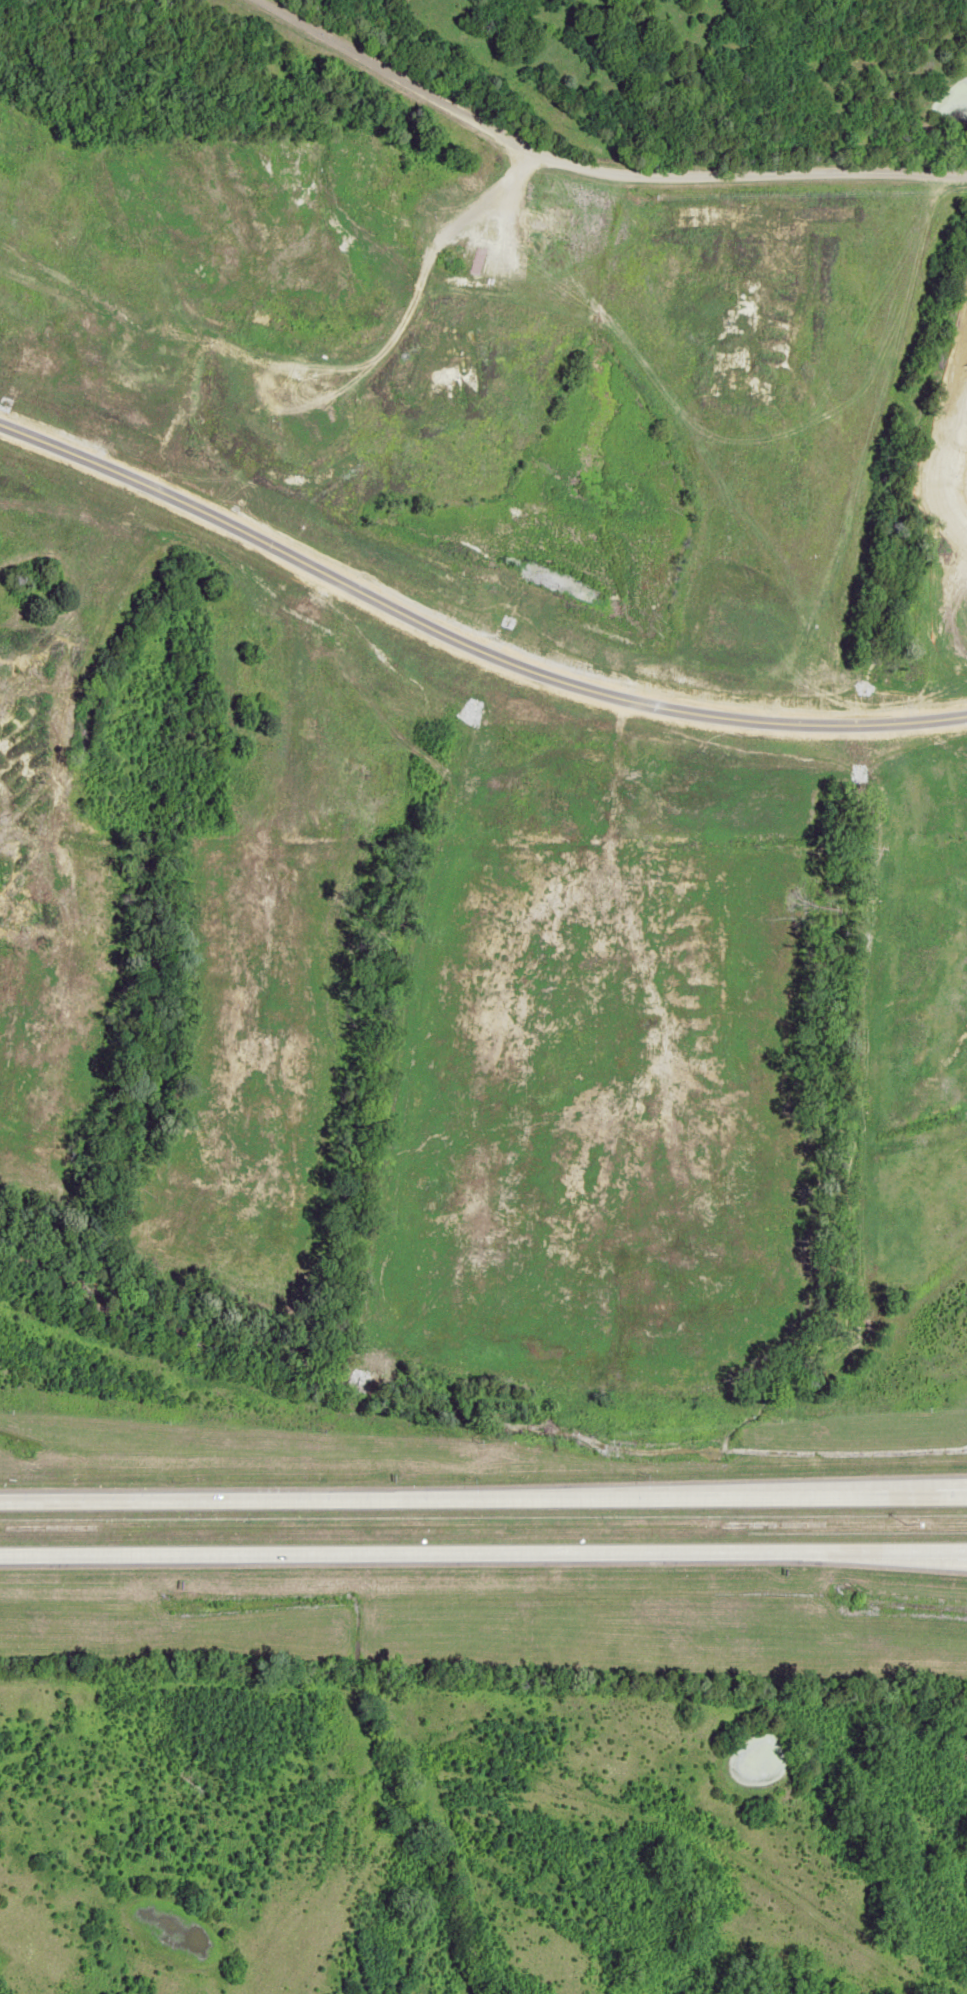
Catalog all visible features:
road: (590, 166)
building: (548, 224)
building: (271, 655)
road: (483, 1495)
road: (483, 1557)
road: (915, 1558)
road: (555, 1758)

